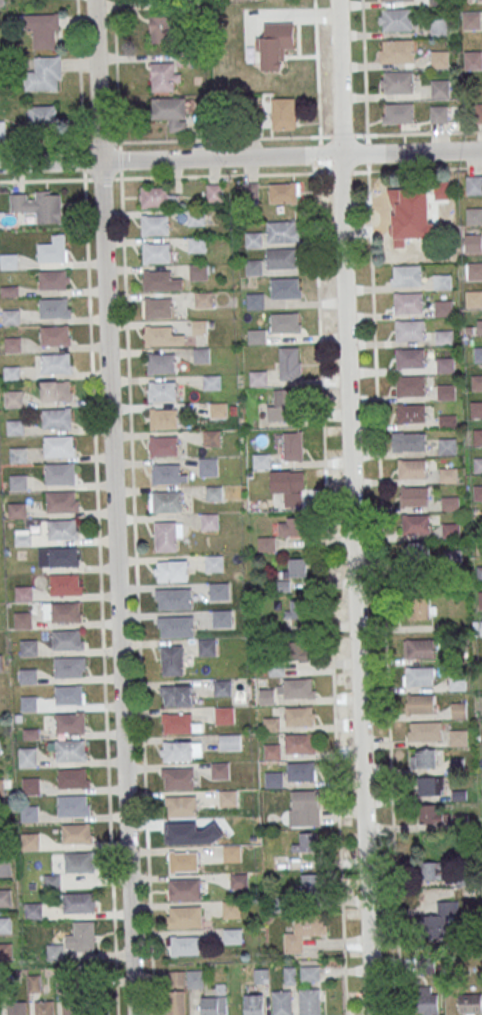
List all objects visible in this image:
building: (391, 0)
building: (1, 3)
building: (397, 19)
building: (471, 19)
building: (43, 29)
building: (161, 29)
building: (274, 43)
building: (398, 50)
building: (439, 58)
building: (473, 58)
road: (363, 67)
road: (116, 70)
building: (44, 74)
building: (164, 77)
building: (399, 81)
building: (439, 88)
road: (80, 89)
building: (170, 112)
building: (283, 113)
building: (398, 113)
building: (438, 113)
building: (478, 113)
building: (42, 115)
road: (183, 139)
road: (366, 151)
road: (240, 156)
road: (119, 159)
road: (183, 176)
building: (474, 184)
building: (214, 192)
building: (284, 192)
building: (157, 197)
building: (38, 205)
building: (195, 216)
building: (473, 216)
building: (413, 217)
building: (155, 224)
building: (283, 231)
building: (253, 239)
building: (472, 242)
building: (196, 244)
building: (52, 249)
building: (156, 253)
building: (281, 258)
building: (8, 261)
building: (254, 267)
building: (474, 270)
building: (197, 271)
building: (406, 275)
building: (53, 279)
building: (160, 280)
building: (442, 281)
building: (285, 288)
building: (474, 298)
building: (204, 299)
building: (255, 301)
building: (407, 302)
building: (158, 307)
building: (442, 307)
building: (54, 308)
building: (11, 316)
building: (285, 323)
building: (199, 327)
building: (479, 327)
building: (408, 329)
building: (54, 335)
building: (162, 336)
building: (257, 336)
building: (444, 337)
building: (13, 344)
building: (477, 354)
building: (201, 355)
building: (409, 358)
building: (56, 363)
building: (160, 363)
building: (289, 363)
building: (445, 364)
building: (11, 373)
building: (258, 378)
building: (211, 382)
building: (477, 383)
building: (409, 385)
building: (55, 390)
building: (161, 391)
building: (446, 391)
building: (13, 398)
building: (281, 405)
building: (218, 409)
building: (475, 409)
building: (410, 413)
building: (56, 418)
building: (163, 418)
building: (14, 427)
building: (477, 437)
building: (211, 438)
building: (410, 441)
building: (58, 445)
building: (163, 446)
building: (293, 446)
building: (447, 446)
building: (18, 455)
building: (262, 461)
building: (478, 465)
building: (208, 466)
building: (410, 469)
building: (59, 473)
building: (165, 474)
building: (449, 474)
building: (18, 482)
building: (289, 486)
building: (213, 493)
building: (478, 493)
building: (413, 495)
building: (61, 501)
building: (166, 501)
building: (449, 502)
road: (113, 507)
road: (326, 507)
road: (353, 507)
building: (17, 510)
building: (209, 521)
building: (415, 524)
building: (291, 526)
building: (62, 529)
building: (450, 530)
building: (167, 535)
building: (266, 544)
building: (419, 554)
building: (62, 556)
building: (213, 563)
building: (296, 567)
building: (171, 571)
building: (479, 574)
building: (66, 584)
building: (219, 591)
building: (23, 593)
road: (384, 593)
road: (136, 596)
road: (100, 597)
building: (174, 598)
building: (480, 599)
building: (421, 606)
building: (294, 608)
building: (61, 611)
building: (221, 618)
building: (23, 619)
building: (176, 626)
building: (480, 627)
building: (67, 639)
building: (207, 646)
building: (28, 647)
building: (419, 648)
building: (301, 650)
building: (172, 660)
building: (0, 662)
building: (69, 666)
building: (419, 676)
building: (457, 683)
building: (222, 687)
building: (297, 688)
building: (69, 694)
building: (176, 695)
building: (266, 696)
building: (418, 704)
building: (224, 715)
building: (299, 716)
building: (70, 722)
building: (179, 723)
building: (271, 724)
building: (425, 731)
building: (458, 737)
building: (230, 742)
building: (299, 743)
building: (68, 749)
building: (181, 751)
building: (272, 751)
building: (27, 757)
building: (423, 758)
building: (220, 770)
building: (301, 772)
building: (178, 777)
building: (73, 778)
building: (274, 779)
building: (430, 785)
building: (31, 786)
building: (227, 798)
building: (73, 805)
building: (180, 805)
building: (304, 807)
building: (29, 813)
building: (430, 814)
building: (231, 825)
building: (76, 833)
building: (180, 833)
building: (30, 841)
building: (307, 842)
building: (231, 853)
building: (183, 861)
building: (79, 862)
building: (4, 866)
building: (433, 870)
building: (238, 879)
building: (52, 881)
building: (309, 884)
building: (184, 889)
building: (5, 897)
building: (79, 902)
building: (231, 908)
building: (33, 910)
building: (184, 917)
building: (440, 920)
building: (5, 925)
building: (304, 932)
building: (85, 936)
building: (232, 936)
building: (185, 945)
building: (6, 951)
building: (310, 973)
building: (290, 974)
building: (34, 983)
building: (181, 989)
building: (425, 1000)
building: (282, 1002)
building: (309, 1002)
building: (253, 1004)
building: (470, 1004)
building: (213, 1005)
building: (44, 1007)
building: (16, 1008)

